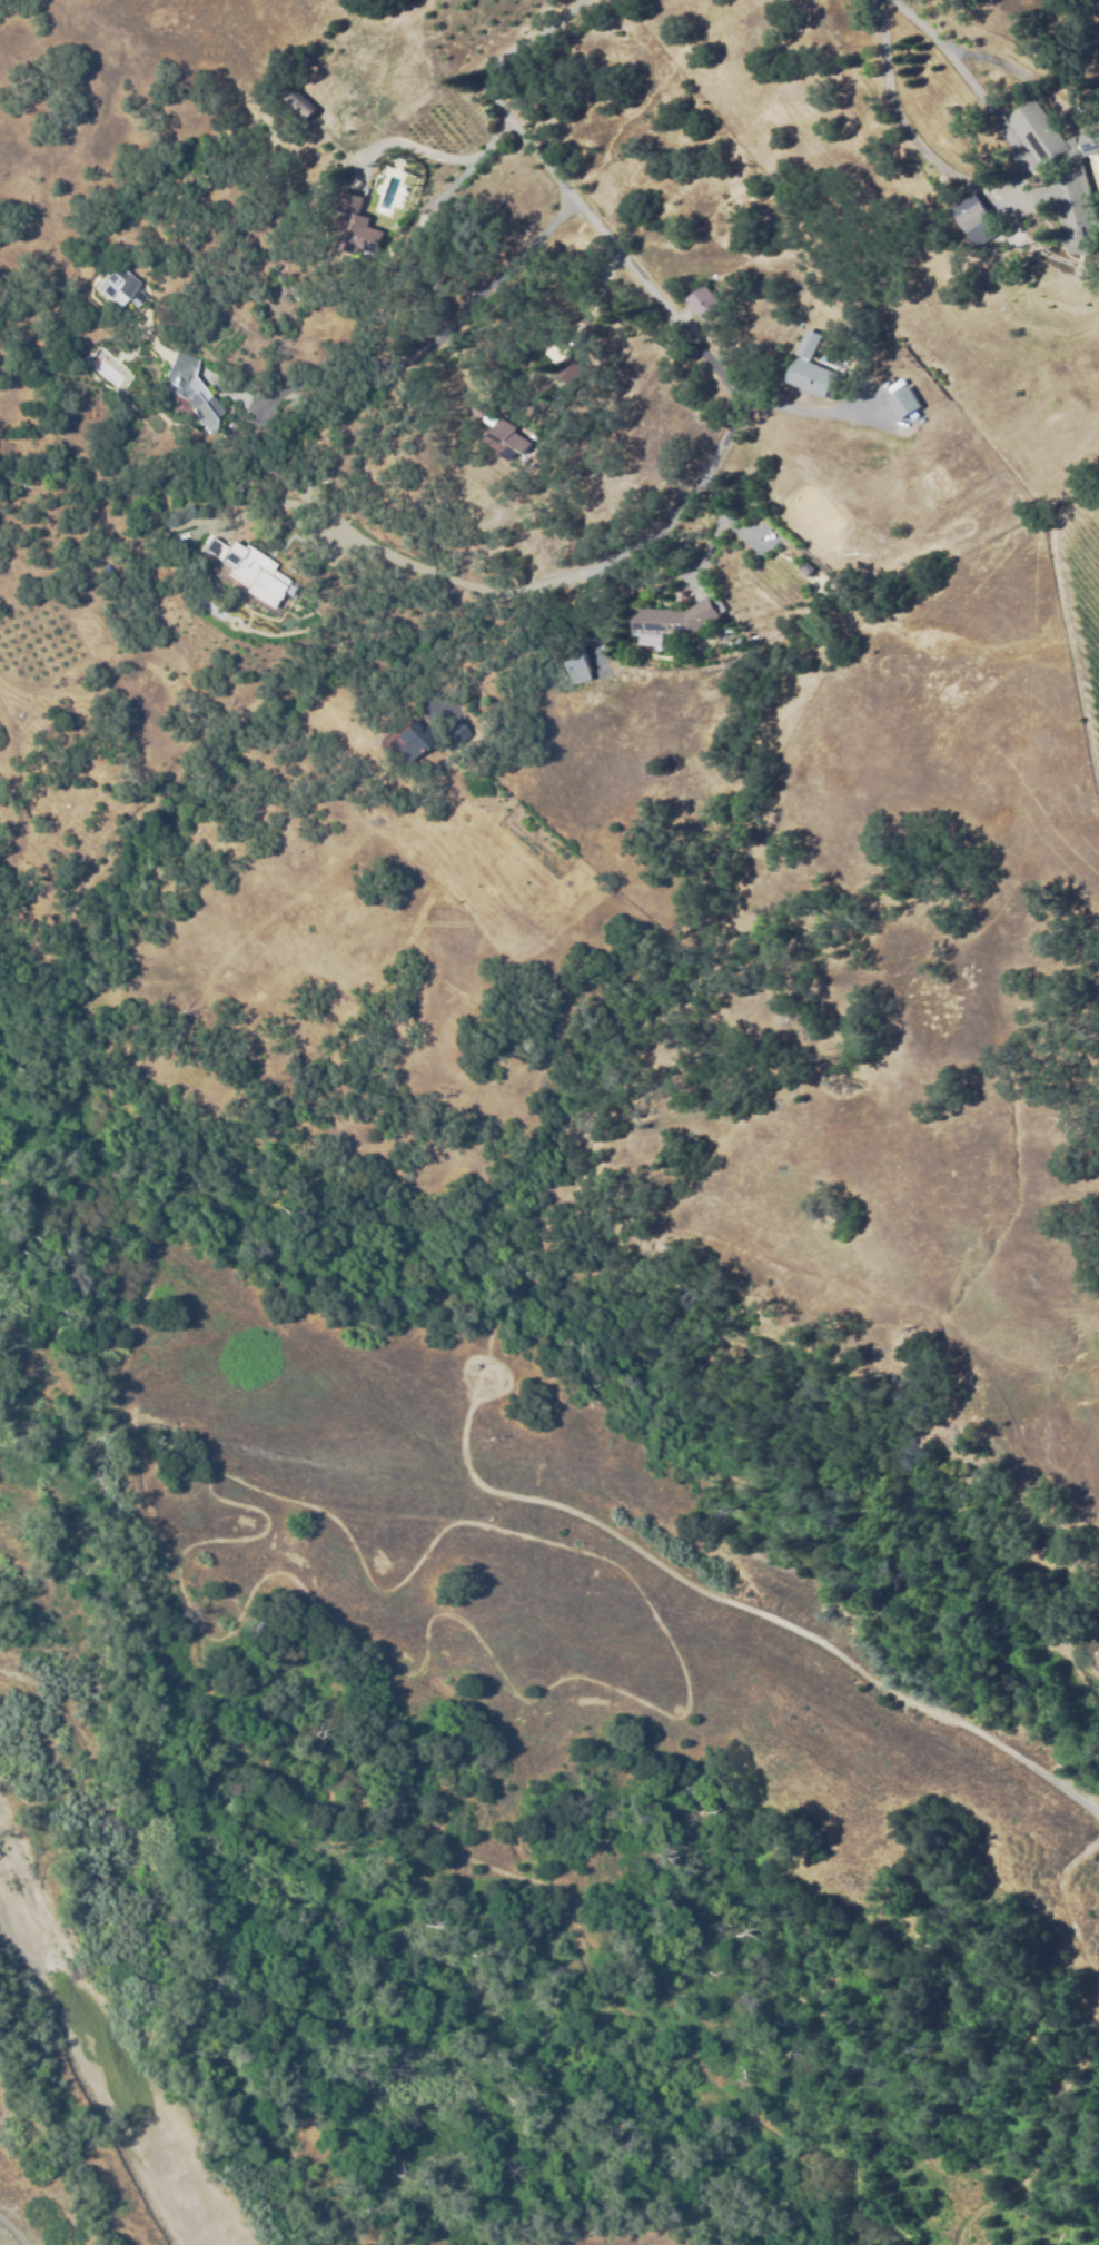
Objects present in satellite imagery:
building: (299, 105)
building: (1061, 177)
building: (973, 219)
building: (355, 227)
building: (115, 286)
building: (705, 307)
building: (810, 345)
building: (566, 372)
building: (812, 379)
road: (724, 387)
building: (189, 388)
building: (900, 399)
building: (502, 435)
building: (237, 567)
building: (673, 623)
building: (576, 661)
building: (452, 734)
building: (406, 741)

